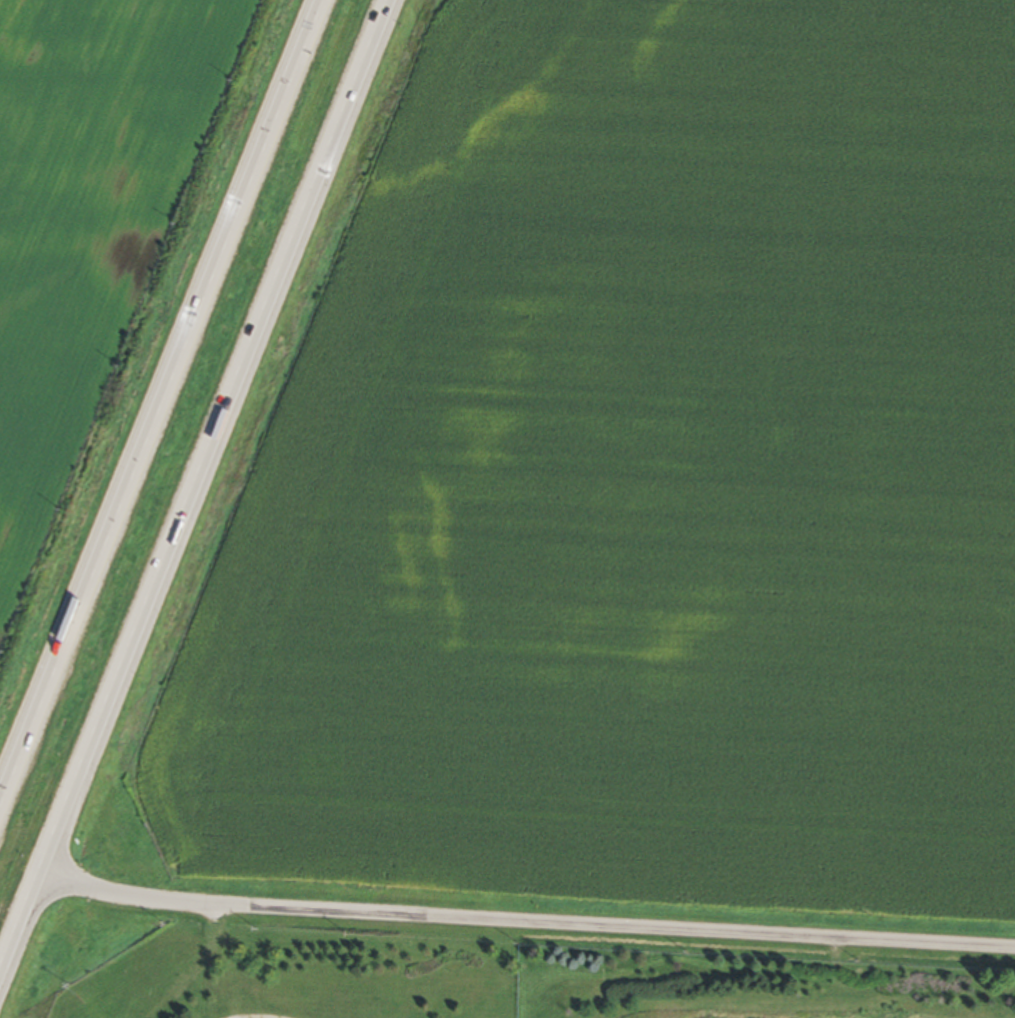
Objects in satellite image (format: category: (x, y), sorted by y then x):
road: (154, 388)
road: (213, 435)
road: (19, 920)
road: (525, 921)

